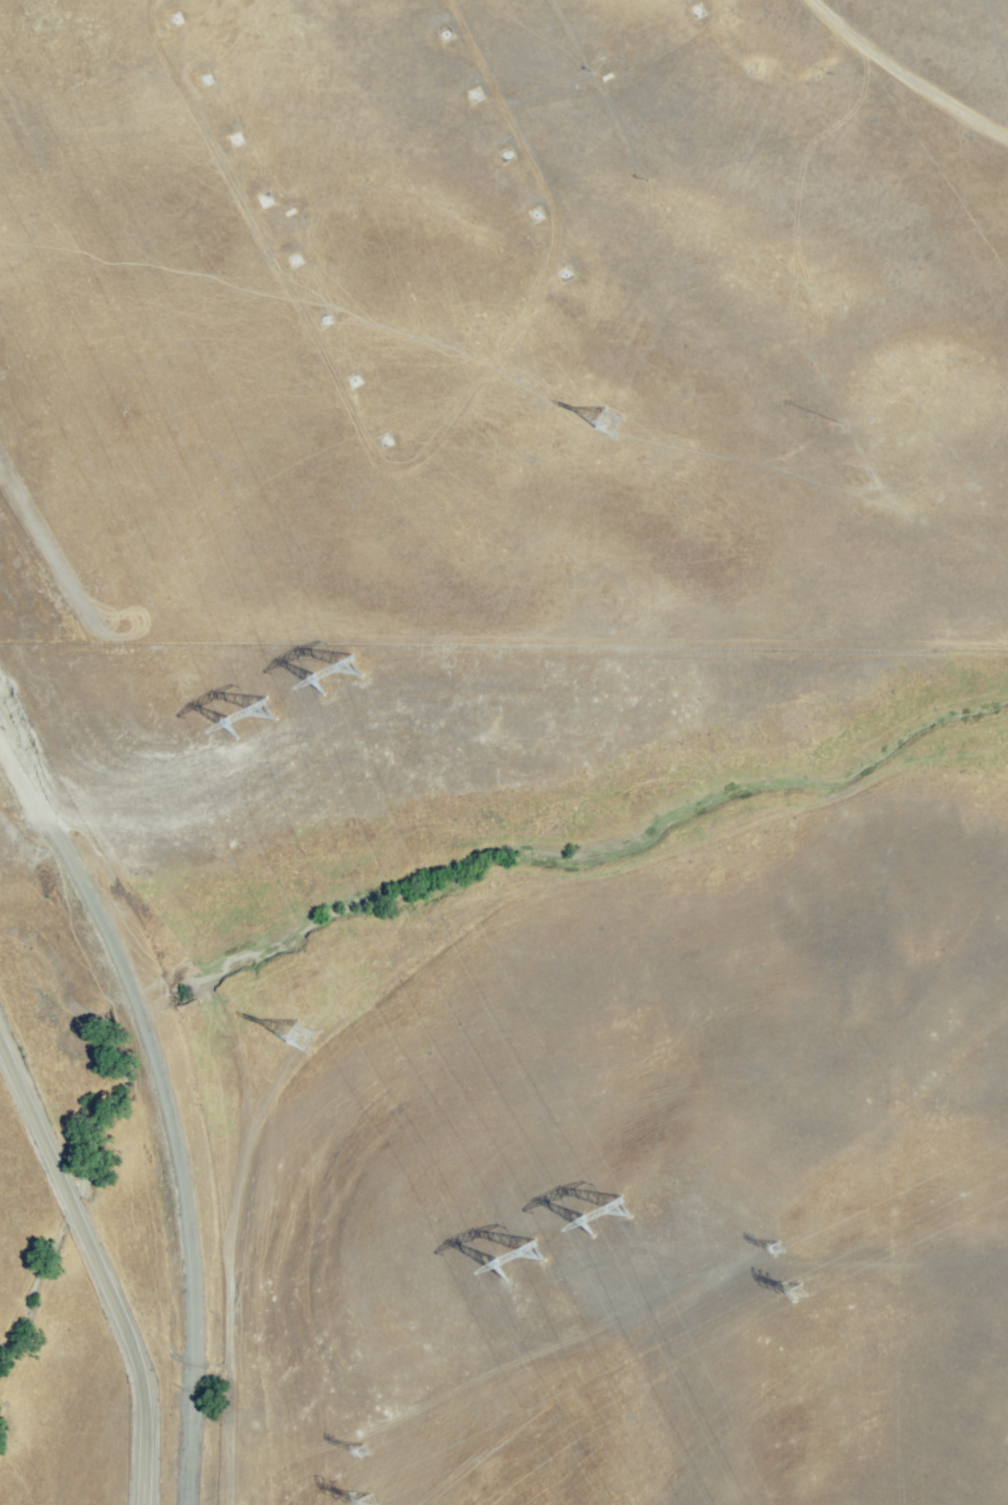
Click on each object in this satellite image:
power tower: (615, 439)
power tower: (345, 676)
power tower: (268, 706)
road: (425, 944)
power tower: (311, 1033)
power tower: (623, 1215)
power tower: (782, 1250)
power tower: (530, 1255)
road: (92, 1273)
power tower: (858, 1279)
power tower: (363, 1450)
power tower: (410, 1493)

